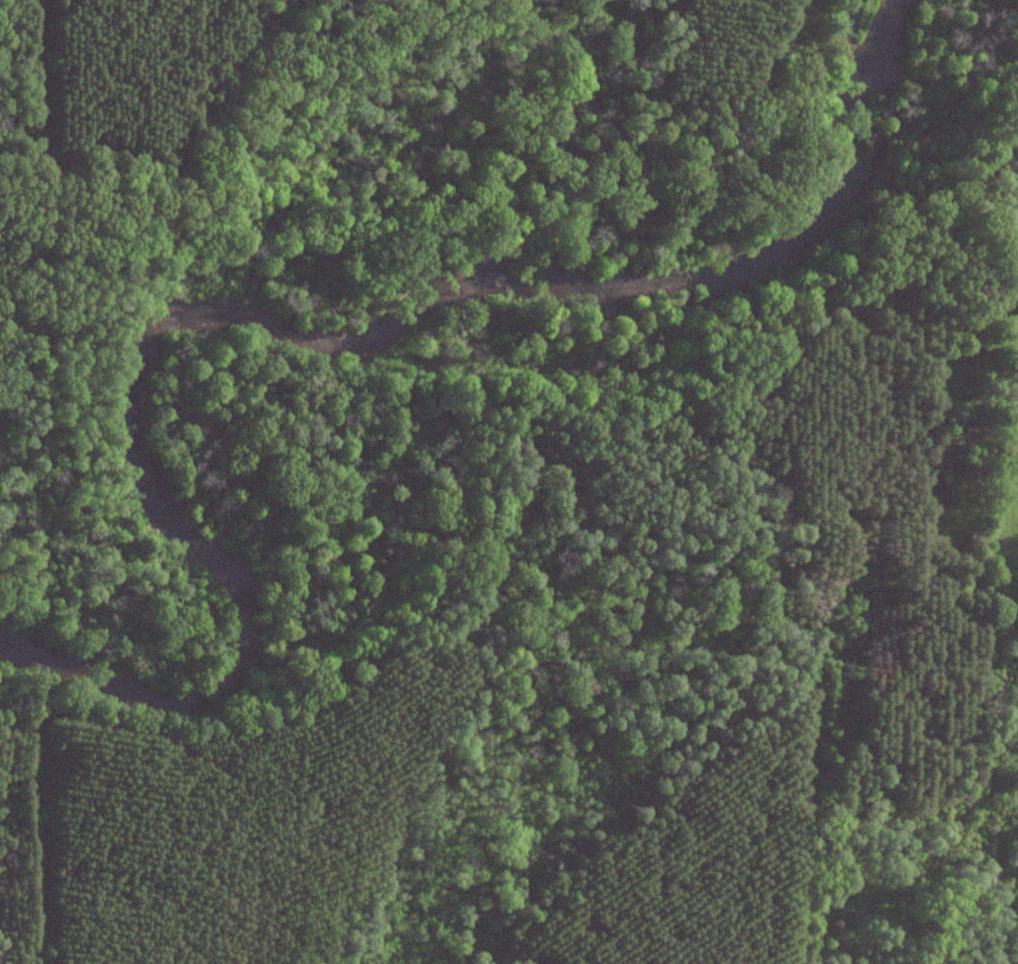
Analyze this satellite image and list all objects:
river: (292, 333)

